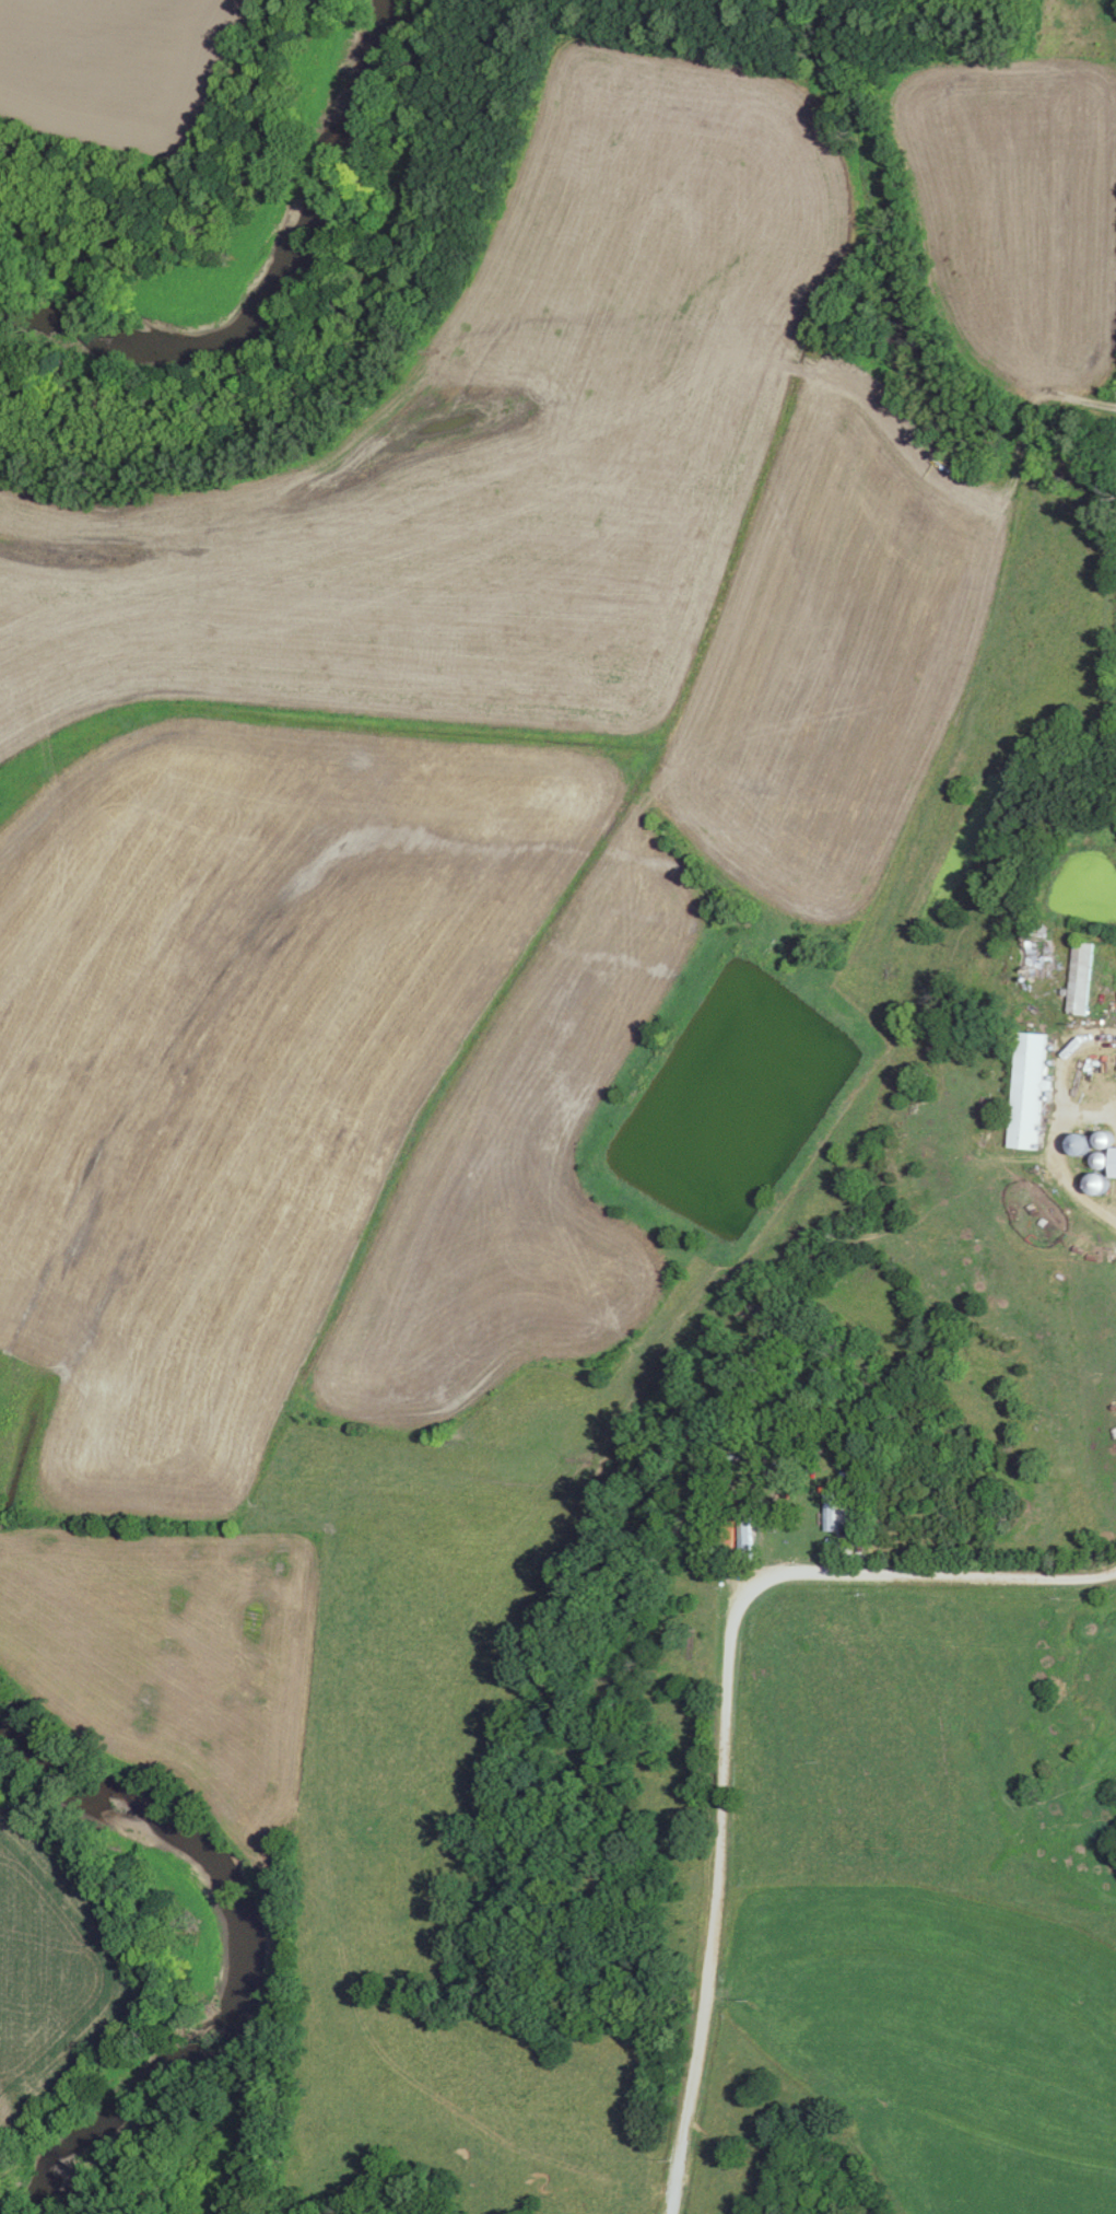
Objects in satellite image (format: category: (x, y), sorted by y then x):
river: (272, 294)
building: (1029, 955)
building: (1077, 978)
building: (1024, 1089)
road: (1054, 1121)
building: (803, 1514)
road: (726, 1716)
river: (228, 1953)

